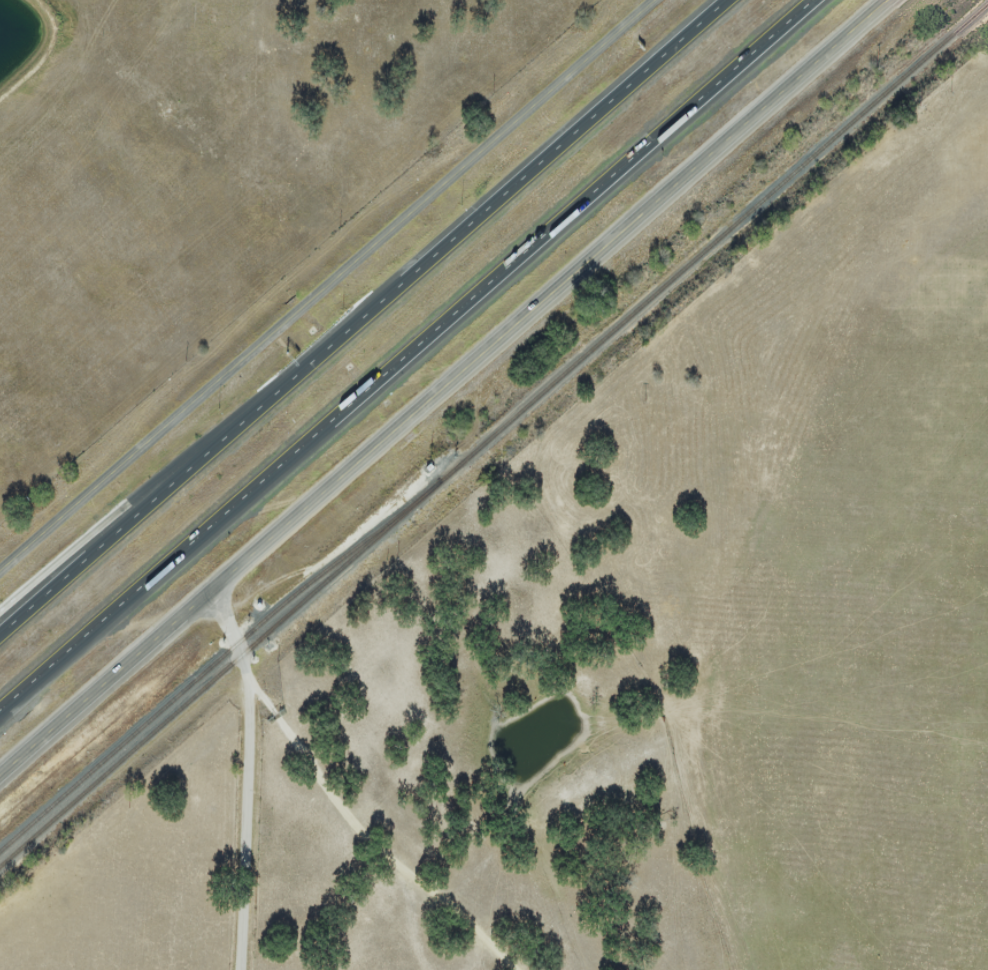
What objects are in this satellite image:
road: (326, 285)
road: (362, 317)
road: (406, 354)
road: (446, 387)
railway: (494, 434)
railway: (219, 659)
road: (247, 777)
road: (370, 836)

